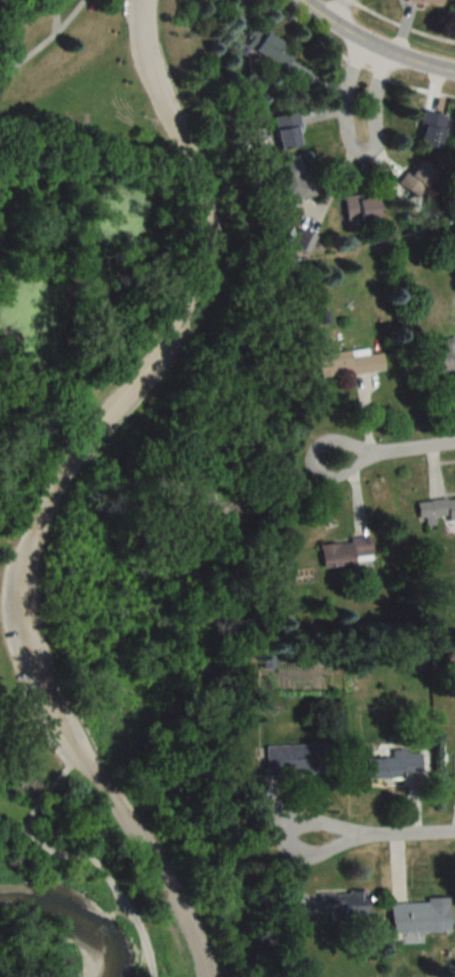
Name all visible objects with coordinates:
building: (424, 3)
building: (452, 8)
road: (338, 10)
road: (67, 16)
road: (400, 27)
road: (39, 42)
road: (373, 44)
road: (352, 64)
building: (284, 130)
building: (427, 137)
road: (355, 150)
building: (414, 178)
building: (289, 180)
building: (357, 207)
building: (300, 242)
building: (441, 357)
building: (347, 362)
road: (395, 448)
park: (117, 469)
road: (58, 487)
building: (436, 510)
building: (344, 551)
road: (10, 552)
building: (422, 628)
parking lot: (38, 666)
building: (293, 759)
building: (391, 764)
road: (48, 790)
road: (380, 833)
road: (100, 870)
building: (340, 903)
river: (69, 911)
building: (417, 915)

